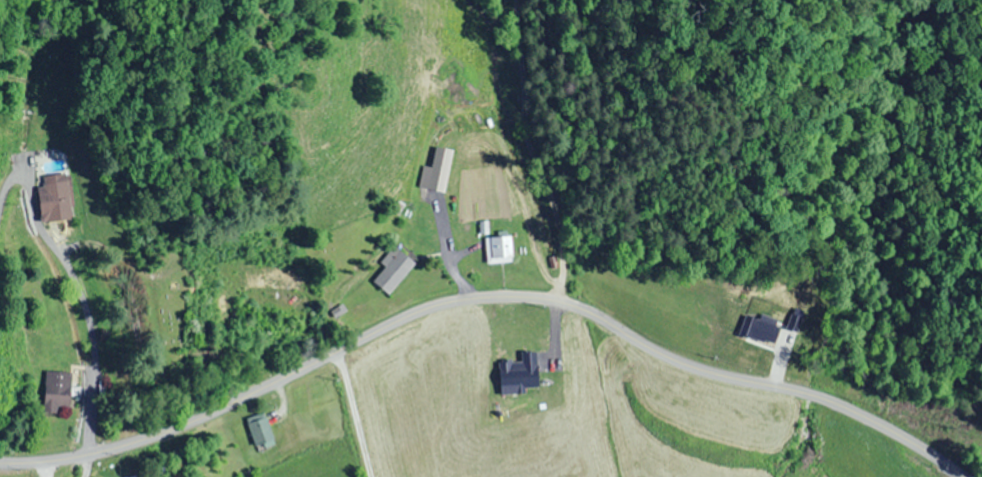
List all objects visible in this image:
building: (438, 169)
building: (54, 198)
building: (498, 249)
building: (390, 271)
road: (482, 300)
building: (782, 301)
road: (30, 321)
building: (753, 341)
building: (55, 390)
road: (350, 414)
building: (260, 430)
road: (167, 455)
road: (91, 466)

